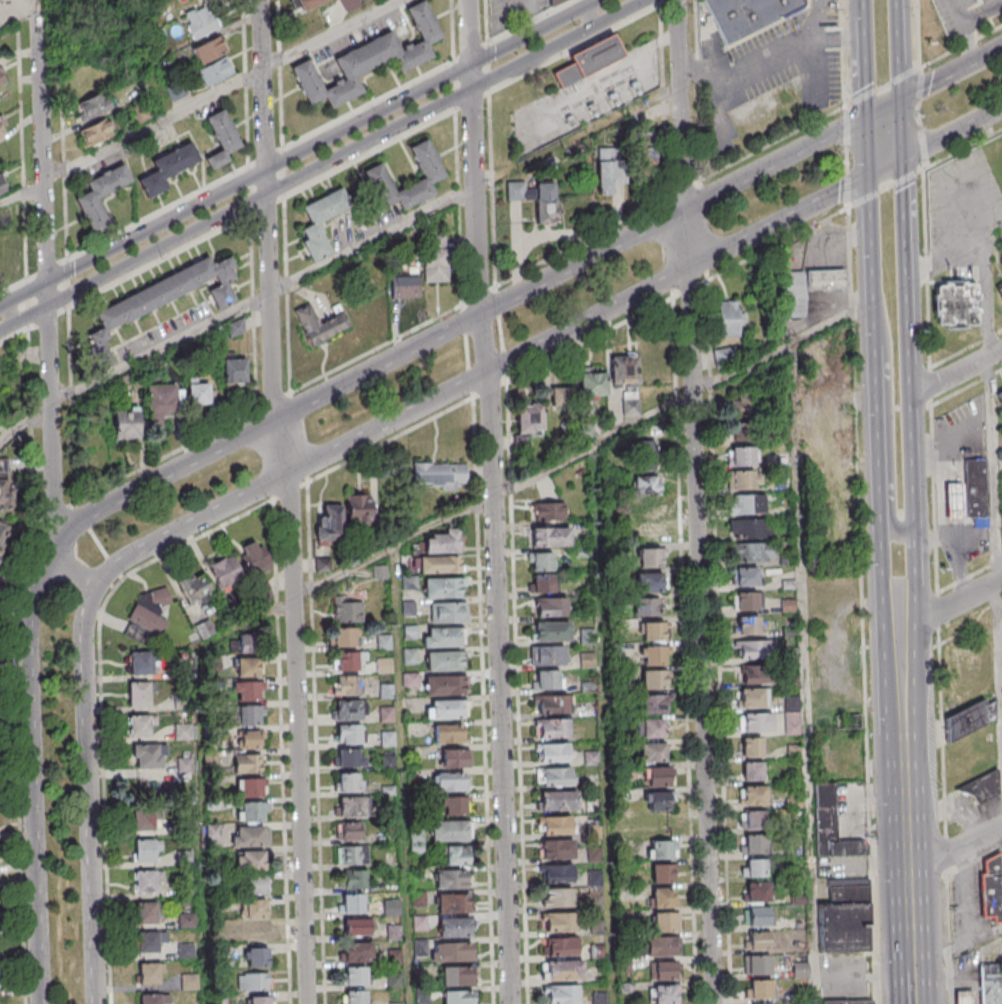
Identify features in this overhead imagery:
building: (982, 0)
building: (988, 1)
building: (556, 2)
road: (659, 2)
road: (663, 2)
building: (308, 4)
road: (864, 11)
road: (960, 11)
road: (984, 13)
road: (593, 15)
building: (747, 15)
building: (200, 21)
road: (262, 30)
road: (334, 33)
road: (918, 33)
road: (821, 39)
road: (972, 42)
road: (960, 46)
building: (208, 49)
road: (898, 49)
road: (845, 52)
road: (987, 54)
building: (592, 61)
building: (373, 66)
road: (866, 68)
road: (753, 70)
building: (216, 71)
building: (1, 80)
road: (935, 80)
road: (921, 85)
road: (883, 86)
power substation: (587, 92)
traffic signals: (900, 99)
road: (884, 107)
building: (93, 108)
road: (918, 114)
traffic signals: (868, 116)
road: (154, 127)
road: (901, 129)
building: (2, 130)
building: (96, 133)
road: (952, 134)
building: (221, 136)
road: (321, 141)
road: (868, 146)
road: (924, 146)
road: (963, 148)
road: (474, 156)
road: (848, 156)
traffic signals: (902, 159)
road: (322, 164)
building: (167, 167)
road: (885, 167)
building: (609, 171)
building: (375, 172)
road: (698, 172)
traffic signals: (869, 176)
building: (2, 185)
road: (886, 189)
road: (20, 196)
building: (536, 198)
building: (87, 199)
road: (903, 205)
road: (673, 214)
road: (780, 221)
building: (315, 222)
road: (373, 239)
road: (269, 240)
road: (774, 246)
road: (953, 259)
building: (437, 260)
road: (872, 260)
road: (926, 268)
building: (825, 278)
building: (404, 287)
road: (689, 290)
building: (999, 290)
road: (22, 294)
building: (793, 294)
building: (161, 299)
building: (958, 302)
road: (46, 312)
road: (9, 313)
building: (728, 319)
building: (320, 325)
building: (236, 327)
road: (966, 348)
road: (159, 350)
building: (727, 357)
road: (377, 366)
building: (624, 370)
building: (235, 371)
road: (956, 373)
building: (592, 385)
road: (930, 386)
road: (909, 391)
building: (200, 395)
building: (1000, 395)
building: (561, 397)
building: (161, 399)
building: (744, 404)
road: (890, 417)
building: (527, 421)
road: (24, 423)
building: (126, 423)
road: (877, 427)
building: (742, 433)
road: (950, 448)
building: (644, 455)
building: (743, 457)
road: (951, 465)
road: (998, 467)
road: (994, 473)
road: (537, 474)
road: (953, 475)
building: (438, 476)
building: (4, 478)
building: (745, 481)
building: (646, 484)
building: (977, 491)
road: (934, 499)
road: (698, 501)
road: (949, 501)
building: (954, 501)
road: (957, 501)
building: (747, 504)
building: (649, 508)
building: (359, 510)
building: (547, 511)
building: (1001, 512)
road: (203, 518)
road: (956, 524)
building: (328, 525)
road: (954, 527)
building: (748, 528)
building: (650, 533)
road: (309, 535)
road: (948, 535)
building: (549, 536)
building: (443, 542)
building: (1, 543)
building: (751, 552)
building: (255, 557)
building: (650, 557)
building: (540, 561)
building: (440, 565)
road: (883, 567)
road: (959, 567)
building: (225, 571)
building: (381, 573)
building: (744, 576)
road: (915, 577)
building: (651, 582)
building: (541, 583)
building: (410, 584)
building: (194, 587)
building: (443, 588)
building: (744, 600)
building: (648, 606)
road: (862, 606)
road: (951, 606)
building: (552, 607)
building: (409, 609)
building: (347, 610)
road: (938, 611)
building: (450, 612)
building: (147, 615)
building: (746, 625)
building: (204, 629)
building: (553, 630)
building: (652, 630)
building: (411, 634)
building: (586, 636)
building: (343, 637)
building: (443, 637)
road: (719, 642)
building: (385, 643)
road: (26, 644)
building: (243, 644)
building: (753, 648)
road: (685, 651)
building: (652, 654)
building: (550, 655)
building: (411, 657)
road: (499, 658)
building: (349, 660)
building: (444, 661)
building: (142, 662)
road: (16, 664)
building: (248, 666)
building: (385, 666)
building: (182, 672)
road: (806, 673)
building: (754, 674)
building: (546, 679)
building: (652, 679)
building: (412, 681)
building: (347, 685)
building: (445, 685)
building: (247, 690)
road: (518, 693)
building: (139, 695)
building: (753, 698)
road: (483, 701)
road: (101, 702)
building: (183, 702)
building: (554, 704)
building: (651, 704)
building: (448, 709)
road: (296, 710)
building: (346, 710)
building: (249, 715)
building: (387, 715)
building: (965, 720)
building: (755, 721)
road: (605, 724)
building: (140, 726)
building: (554, 728)
building: (650, 728)
road: (942, 731)
building: (184, 733)
building: (350, 733)
building: (448, 734)
building: (250, 738)
building: (388, 739)
building: (751, 746)
road: (282, 752)
building: (554, 752)
building: (652, 752)
building: (149, 756)
building: (454, 757)
building: (349, 758)
building: (212, 759)
building: (389, 763)
building: (248, 764)
building: (186, 766)
building: (751, 770)
road: (404, 775)
building: (656, 776)
building: (557, 777)
road: (905, 777)
building: (348, 782)
building: (449, 782)
building: (252, 787)
building: (985, 787)
building: (752, 795)
building: (557, 801)
building: (658, 801)
building: (454, 805)
building: (350, 807)
building: (252, 811)
building: (144, 819)
building: (751, 819)
building: (556, 825)
building: (830, 825)
building: (449, 829)
building: (349, 831)
building: (214, 832)
building: (417, 835)
building: (249, 836)
building: (753, 844)
building: (559, 849)
building: (660, 849)
road: (955, 849)
building: (145, 850)
building: (348, 854)
road: (945, 854)
building: (456, 855)
building: (185, 858)
building: (254, 859)
road: (974, 860)
building: (754, 867)
building: (661, 872)
building: (558, 873)
building: (352, 879)
building: (450, 879)
building: (146, 881)
building: (257, 884)
building: (991, 890)
building: (186, 892)
building: (755, 893)
building: (557, 896)
building: (660, 897)
building: (419, 899)
building: (353, 902)
building: (453, 902)
building: (217, 905)
building: (256, 908)
building: (391, 908)
building: (146, 912)
building: (755, 916)
building: (844, 916)
building: (187, 921)
building: (560, 921)
building: (664, 921)
building: (420, 923)
building: (356, 926)
building: (454, 927)
building: (217, 929)
building: (394, 932)
building: (257, 933)
road: (911, 936)
road: (948, 939)
building: (755, 941)
building: (148, 942)
building: (659, 945)
building: (563, 946)
building: (421, 948)
building: (356, 951)
building: (186, 952)
building: (452, 952)
building: (219, 953)
road: (912, 955)
building: (258, 957)
building: (395, 957)
building: (755, 964)
building: (562, 969)
building: (661, 970)
building: (149, 973)
building: (355, 975)
building: (457, 975)
building: (253, 981)
building: (395, 981)
building: (190, 982)
building: (991, 983)
road: (913, 987)
building: (757, 989)
building: (563, 994)
building: (662, 994)
building: (355, 996)
building: (423, 996)
building: (460, 996)
building: (964, 997)
building: (150, 998)
building: (220, 999)
building: (260, 1000)
building: (849, 1001)
building: (760, 1003)

